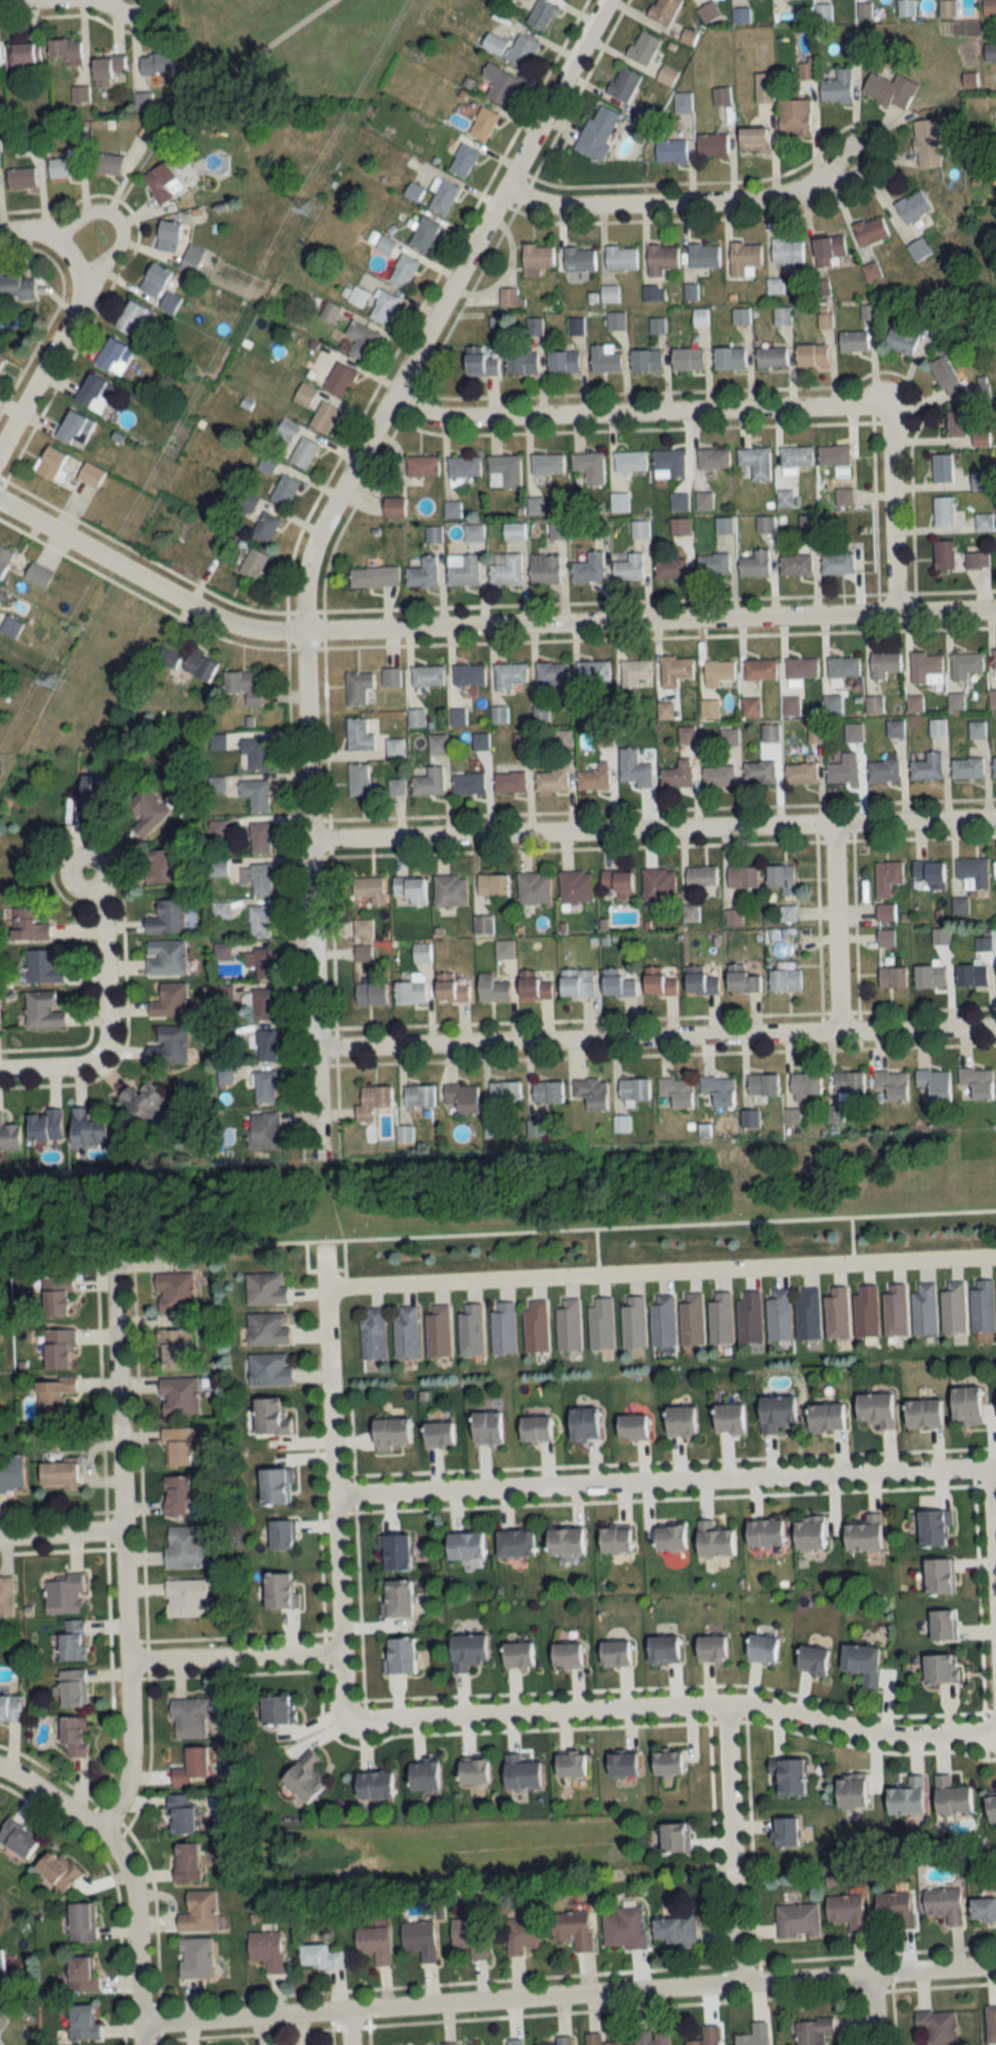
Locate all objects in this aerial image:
road: (19, 1)
building: (905, 8)
road: (127, 9)
building: (663, 11)
building: (708, 12)
building: (803, 13)
building: (823, 13)
building: (541, 15)
building: (741, 15)
building: (688, 37)
building: (852, 40)
building: (493, 44)
building: (642, 48)
building: (64, 51)
building: (522, 52)
building: (23, 55)
building: (155, 64)
building: (805, 68)
building: (106, 70)
building: (666, 75)
building: (622, 84)
building: (499, 85)
building: (836, 87)
road: (198, 88)
building: (763, 88)
building: (890, 90)
building: (720, 96)
building: (142, 102)
building: (682, 103)
building: (793, 118)
building: (482, 124)
building: (598, 133)
building: (752, 141)
building: (925, 143)
building: (711, 146)
building: (670, 152)
building: (462, 161)
building: (106, 164)
building: (63, 166)
building: (21, 178)
building: (161, 182)
building: (413, 192)
building: (441, 196)
road: (688, 204)
building: (911, 207)
power tower: (314, 212)
road: (120, 223)
building: (870, 231)
road: (36, 233)
building: (422, 235)
building: (167, 236)
building: (384, 244)
building: (828, 250)
building: (918, 250)
building: (786, 251)
building: (702, 255)
building: (537, 257)
building: (190, 258)
building: (620, 258)
building: (661, 259)
building: (743, 259)
building: (578, 260)
building: (402, 270)
building: (871, 272)
building: (153, 280)
building: (15, 286)
building: (821, 288)
building: (357, 295)
building: (508, 297)
building: (382, 307)
building: (868, 312)
building: (781, 315)
building: (740, 316)
building: (132, 317)
building: (699, 317)
building: (931, 318)
building: (615, 320)
building: (534, 325)
building: (575, 326)
building: (902, 339)
building: (357, 340)
building: (853, 342)
road: (48, 348)
building: (811, 355)
building: (113, 356)
building: (771, 357)
building: (729, 358)
building: (604, 359)
building: (687, 359)
building: (646, 360)
building: (0, 361)
building: (480, 361)
building: (522, 361)
building: (563, 362)
building: (945, 375)
building: (339, 379)
building: (93, 393)
building: (304, 394)
road: (639, 413)
building: (323, 417)
building: (955, 422)
building: (73, 429)
building: (302, 452)
building: (833, 455)
building: (795, 456)
building: (713, 459)
building: (629, 461)
building: (755, 462)
building: (51, 463)
building: (668, 463)
building: (546, 464)
building: (266, 465)
building: (421, 465)
building: (464, 466)
building: (588, 467)
building: (942, 468)
building: (503, 471)
building: (90, 474)
building: (980, 481)
building: (283, 489)
building: (784, 499)
building: (704, 500)
building: (679, 502)
building: (393, 507)
road: (892, 510)
building: (943, 510)
building: (764, 523)
building: (723, 525)
building: (264, 526)
building: (679, 527)
building: (639, 529)
building: (475, 530)
road: (312, 539)
building: (943, 554)
building: (6, 560)
building: (976, 560)
building: (252, 563)
building: (836, 563)
building: (712, 564)
building: (754, 564)
building: (795, 565)
building: (544, 568)
building: (588, 568)
building: (628, 568)
building: (670, 568)
building: (462, 569)
building: (505, 569)
building: (423, 572)
building: (42, 575)
building: (373, 577)
building: (0, 588)
road: (483, 625)
building: (14, 628)
building: (166, 656)
building: (994, 659)
building: (883, 664)
building: (965, 665)
building: (198, 666)
building: (842, 666)
building: (801, 667)
building: (925, 668)
building: (759, 669)
building: (674, 670)
building: (593, 671)
building: (634, 672)
building: (717, 672)
building: (468, 674)
building: (550, 674)
building: (509, 675)
building: (427, 676)
building: (390, 677)
power tower: (56, 684)
building: (242, 686)
building: (357, 687)
building: (914, 702)
building: (415, 717)
building: (936, 727)
building: (976, 729)
building: (853, 732)
building: (769, 733)
building: (686, 734)
building: (358, 735)
building: (731, 736)
building: (564, 738)
building: (217, 742)
building: (437, 744)
building: (394, 747)
building: (255, 752)
building: (994, 766)
building: (927, 767)
building: (966, 767)
building: (634, 768)
building: (843, 769)
building: (883, 770)
building: (758, 772)
building: (799, 773)
building: (677, 774)
building: (718, 776)
building: (593, 778)
building: (357, 779)
building: (552, 779)
building: (428, 782)
building: (509, 782)
building: (468, 783)
building: (395, 786)
building: (255, 794)
building: (90, 797)
building: (146, 810)
road: (654, 828)
building: (260, 838)
building: (158, 866)
building: (236, 873)
building: (972, 873)
building: (928, 875)
building: (700, 877)
building: (742, 877)
building: (780, 878)
building: (887, 878)
building: (261, 879)
building: (618, 883)
building: (657, 884)
building: (492, 885)
building: (575, 886)
building: (533, 888)
building: (410, 889)
building: (450, 891)
building: (367, 893)
building: (885, 913)
building: (166, 917)
building: (733, 917)
building: (261, 921)
building: (27, 925)
building: (483, 925)
road: (834, 927)
building: (940, 937)
building: (885, 938)
building: (362, 953)
building: (421, 953)
building: (165, 957)
building: (263, 963)
building: (43, 967)
building: (971, 974)
building: (929, 976)
building: (891, 977)
building: (741, 980)
building: (784, 980)
building: (700, 981)
building: (576, 982)
building: (616, 983)
building: (658, 983)
building: (532, 986)
road: (102, 988)
building: (450, 989)
building: (492, 989)
building: (411, 990)
building: (370, 993)
building: (169, 1000)
building: (263, 1004)
building: (42, 1010)
road: (658, 1035)
building: (168, 1045)
building: (266, 1045)
road: (23, 1068)
building: (848, 1082)
building: (977, 1082)
building: (762, 1084)
building: (892, 1084)
building: (934, 1084)
building: (804, 1085)
building: (264, 1087)
building: (633, 1089)
building: (719, 1090)
building: (504, 1092)
building: (677, 1092)
building: (547, 1093)
building: (591, 1093)
building: (418, 1096)
building: (462, 1098)
building: (141, 1101)
building: (371, 1101)
building: (44, 1125)
building: (85, 1127)
building: (264, 1130)
building: (9, 1136)
road: (649, 1223)
road: (661, 1270)
building: (265, 1289)
building: (173, 1292)
building: (55, 1297)
building: (982, 1306)
building: (953, 1308)
building: (924, 1309)
building: (895, 1311)
building: (837, 1312)
building: (866, 1312)
building: (808, 1314)
building: (779, 1315)
building: (720, 1317)
building: (750, 1317)
building: (692, 1319)
building: (663, 1320)
building: (633, 1322)
building: (601, 1324)
building: (568, 1325)
building: (535, 1327)
building: (503, 1328)
building: (268, 1329)
building: (470, 1330)
building: (438, 1331)
building: (406, 1332)
building: (373, 1334)
building: (57, 1349)
building: (172, 1350)
building: (269, 1369)
building: (52, 1396)
building: (178, 1397)
building: (966, 1406)
building: (875, 1411)
building: (776, 1413)
building: (923, 1414)
building: (270, 1416)
building: (825, 1417)
building: (728, 1419)
building: (680, 1422)
building: (583, 1424)
building: (632, 1427)
building: (486, 1429)
building: (535, 1429)
building: (390, 1434)
building: (438, 1435)
building: (177, 1447)
building: (11, 1474)
building: (58, 1477)
road: (666, 1479)
road: (336, 1482)
building: (274, 1486)
building: (175, 1496)
road: (992, 1525)
building: (932, 1528)
building: (764, 1533)
building: (809, 1533)
road: (59, 1534)
building: (864, 1534)
building: (280, 1535)
building: (669, 1537)
building: (614, 1539)
building: (713, 1540)
building: (564, 1541)
building: (514, 1543)
building: (464, 1546)
building: (184, 1547)
road: (119, 1548)
building: (394, 1553)
building: (939, 1577)
building: (278, 1592)
building: (64, 1595)
building: (5, 1597)
building: (183, 1598)
building: (396, 1599)
building: (941, 1626)
building: (72, 1640)
building: (711, 1649)
building: (761, 1649)
building: (662, 1650)
building: (466, 1652)
building: (614, 1654)
building: (399, 1656)
building: (517, 1656)
building: (565, 1656)
road: (233, 1658)
building: (812, 1659)
building: (859, 1659)
building: (939, 1669)
building: (71, 1689)
road: (676, 1704)
building: (9, 1708)
building: (277, 1710)
building: (188, 1719)
building: (73, 1736)
building: (667, 1763)
building: (621, 1764)
building: (570, 1765)
building: (191, 1768)
building: (472, 1772)
building: (520, 1773)
building: (423, 1776)
building: (303, 1777)
building: (789, 1777)
building: (373, 1785)
building: (851, 1791)
building: (951, 1797)
building: (906, 1798)
road: (51, 1802)
building: (991, 1808)
building: (181, 1815)
building: (784, 1832)
building: (16, 1838)
building: (674, 1838)
road: (731, 1842)
building: (184, 1864)
building: (56, 1873)
building: (943, 1905)
building: (895, 1909)
building: (983, 1911)
building: (847, 1912)
building: (197, 1913)
building: (796, 1921)
building: (81, 1923)
building: (624, 1928)
building: (571, 1929)
building: (673, 1929)
building: (521, 1935)
road: (132, 1936)
building: (468, 1937)
building: (419, 1939)
building: (372, 1944)
building: (265, 1950)
building: (319, 1958)
building: (194, 1959)
building: (2, 1972)
building: (81, 1975)
road: (566, 1996)
road: (872, 2010)
building: (1, 2021)
building: (81, 2023)
building: (991, 2024)
road: (343, 2027)
building: (937, 2027)
building: (813, 2031)
building: (753, 2035)
building: (706, 2036)
building: (649, 2037)
building: (561, 2040)
building: (596, 2040)
building: (514, 2042)

